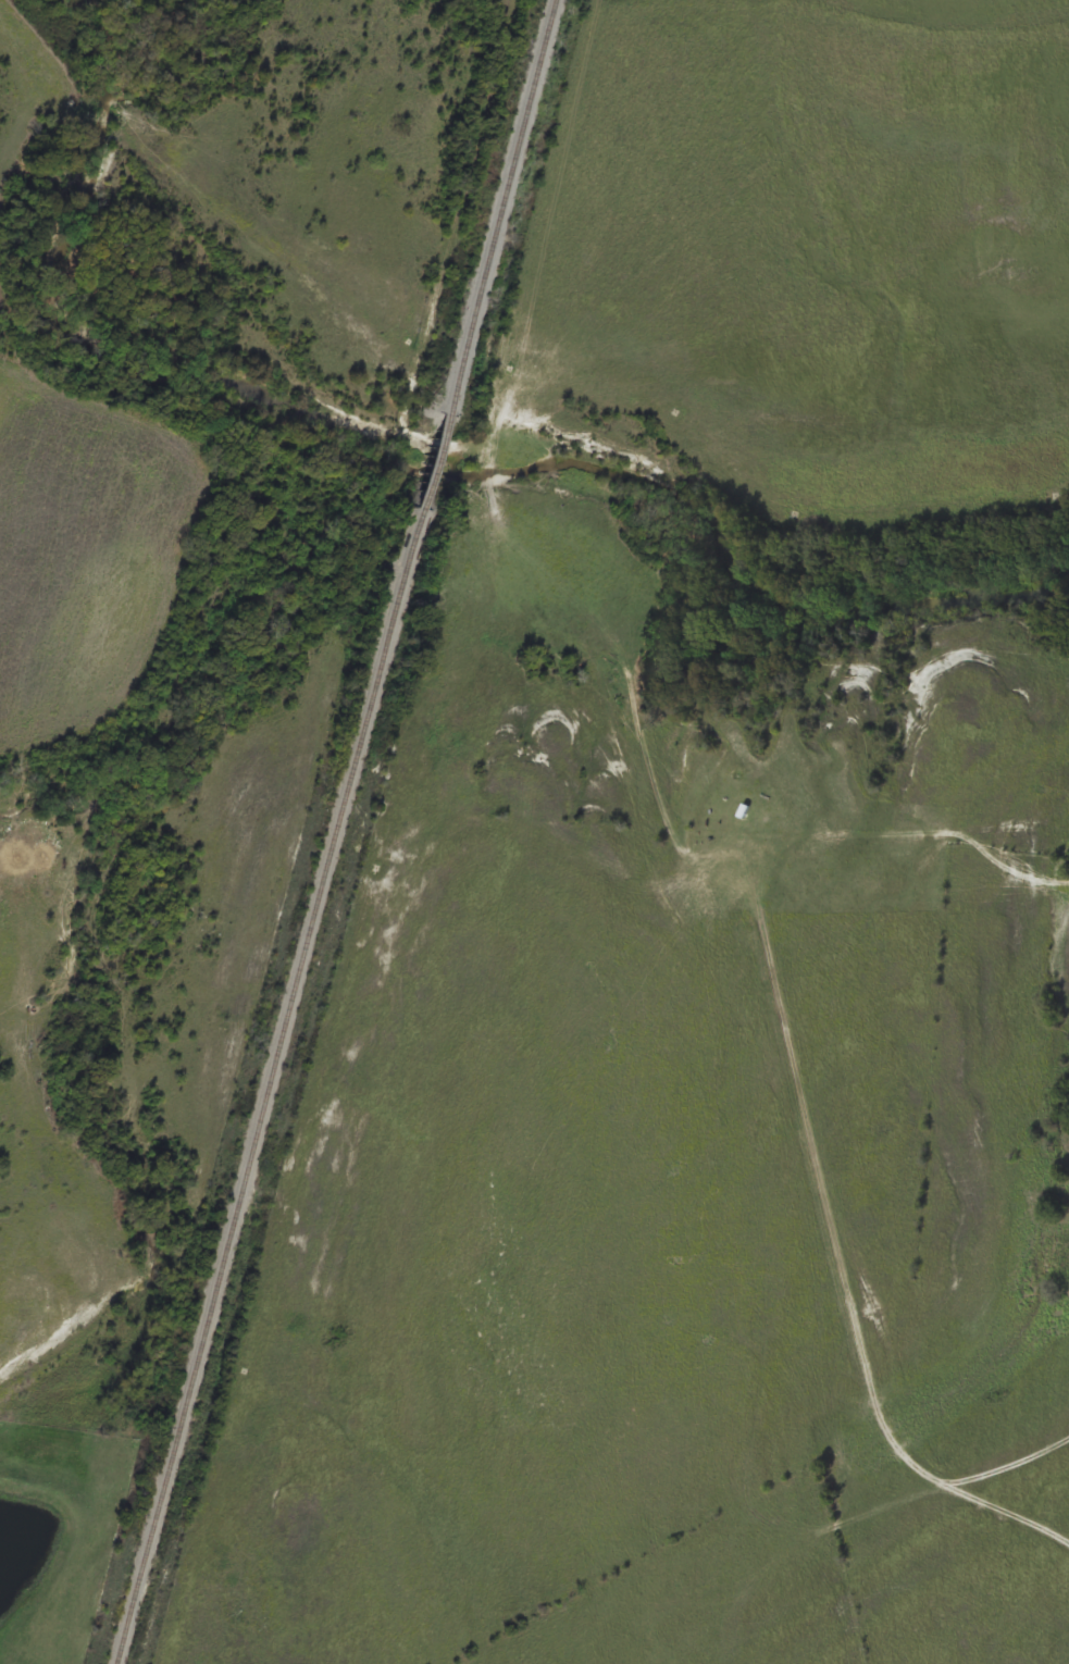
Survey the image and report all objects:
railway: (502, 208)
railway: (433, 463)
railway: (269, 1086)

